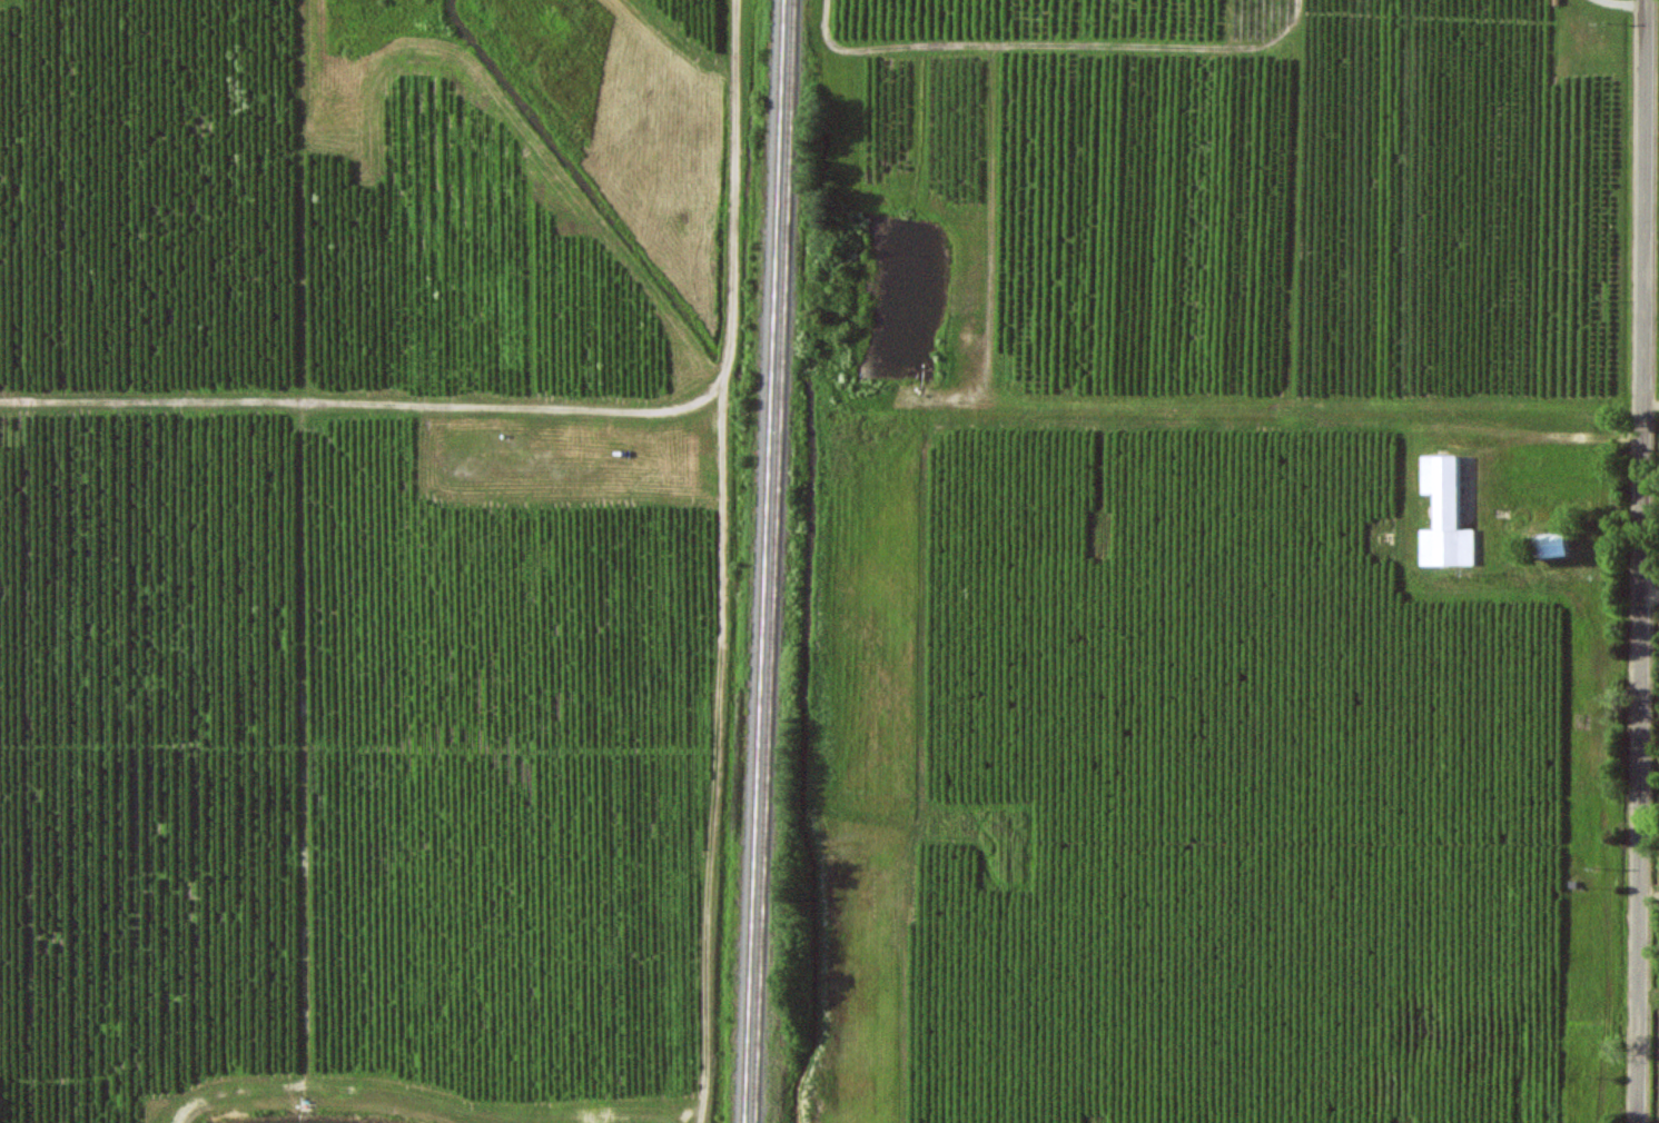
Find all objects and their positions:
building: (1445, 515)
building: (1551, 545)
railway: (769, 561)
railway: (779, 561)
road: (1643, 561)

